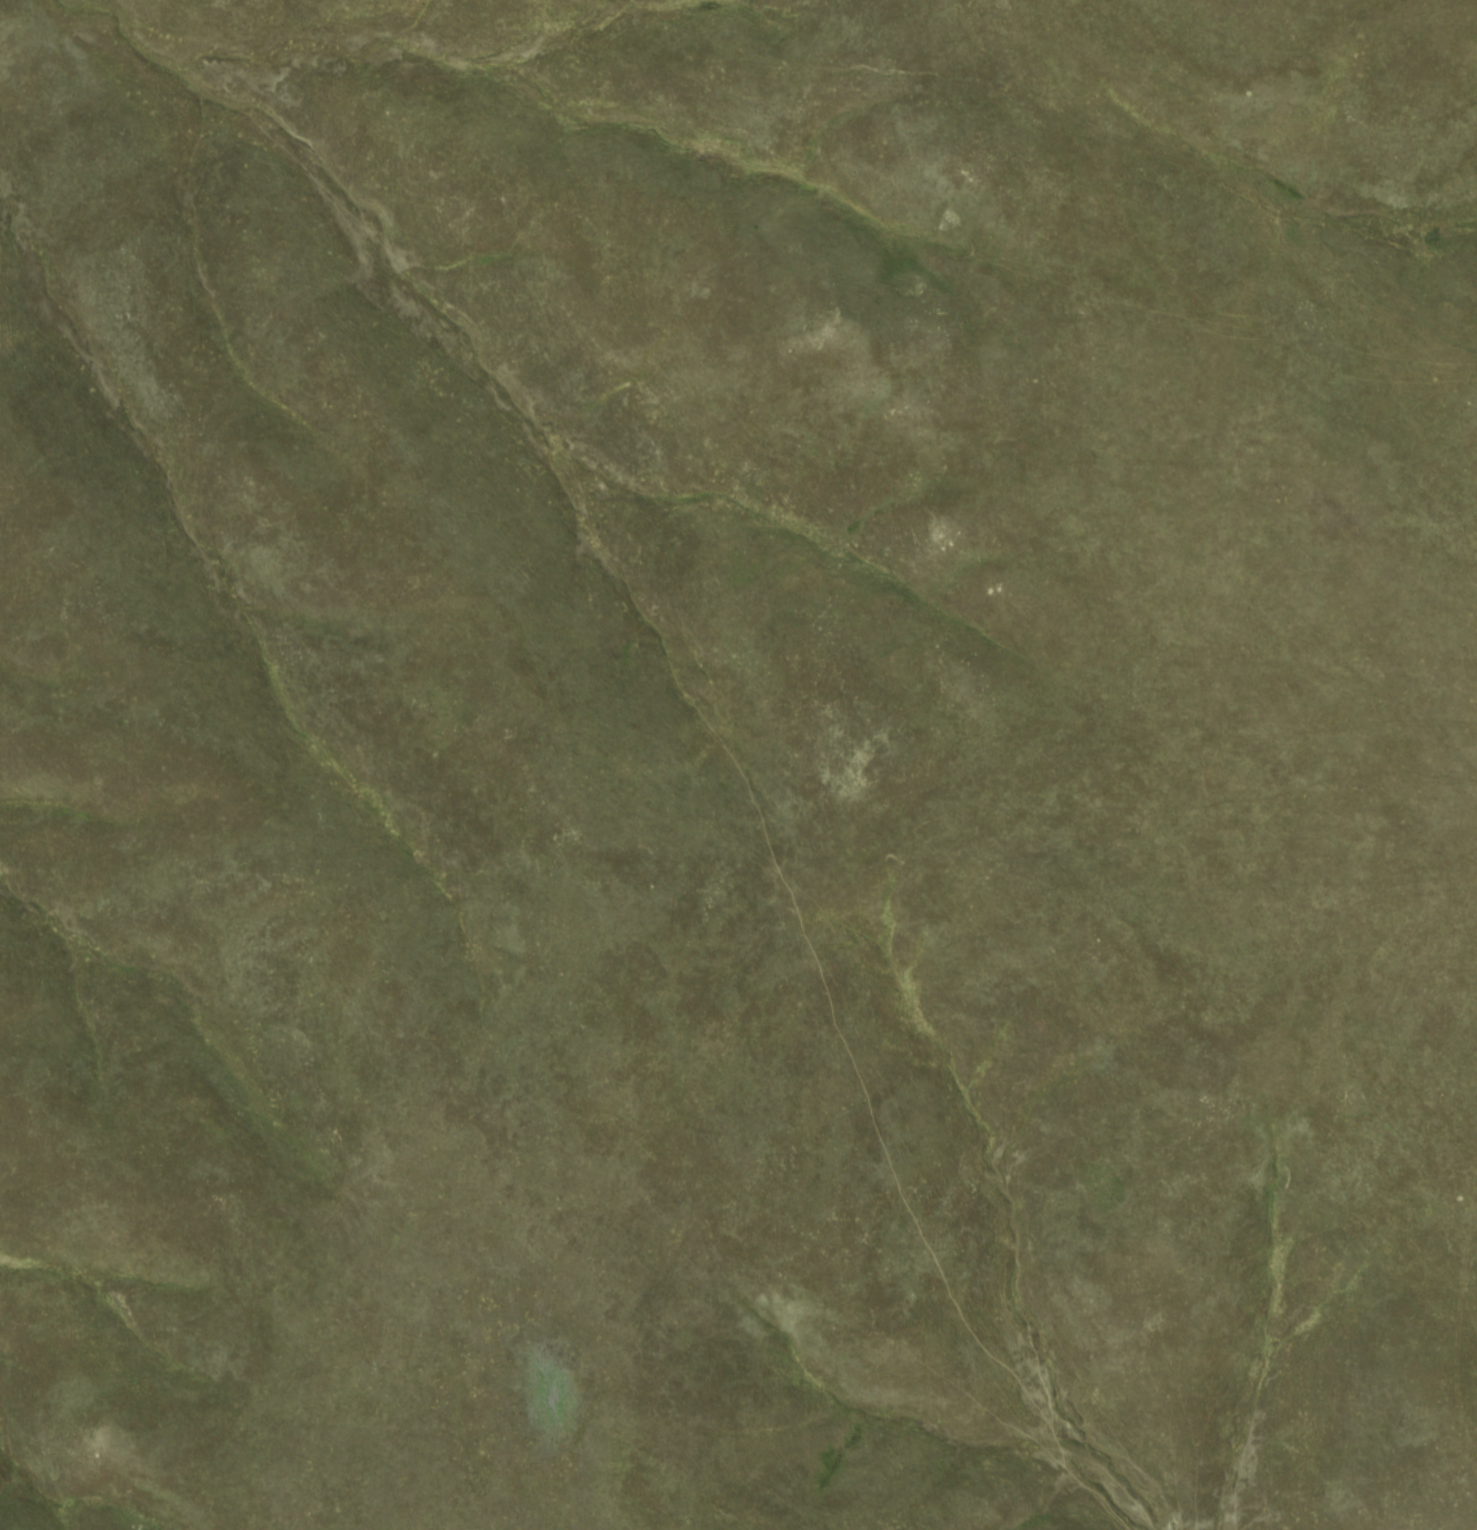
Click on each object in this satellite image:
road: (1193, 308)

